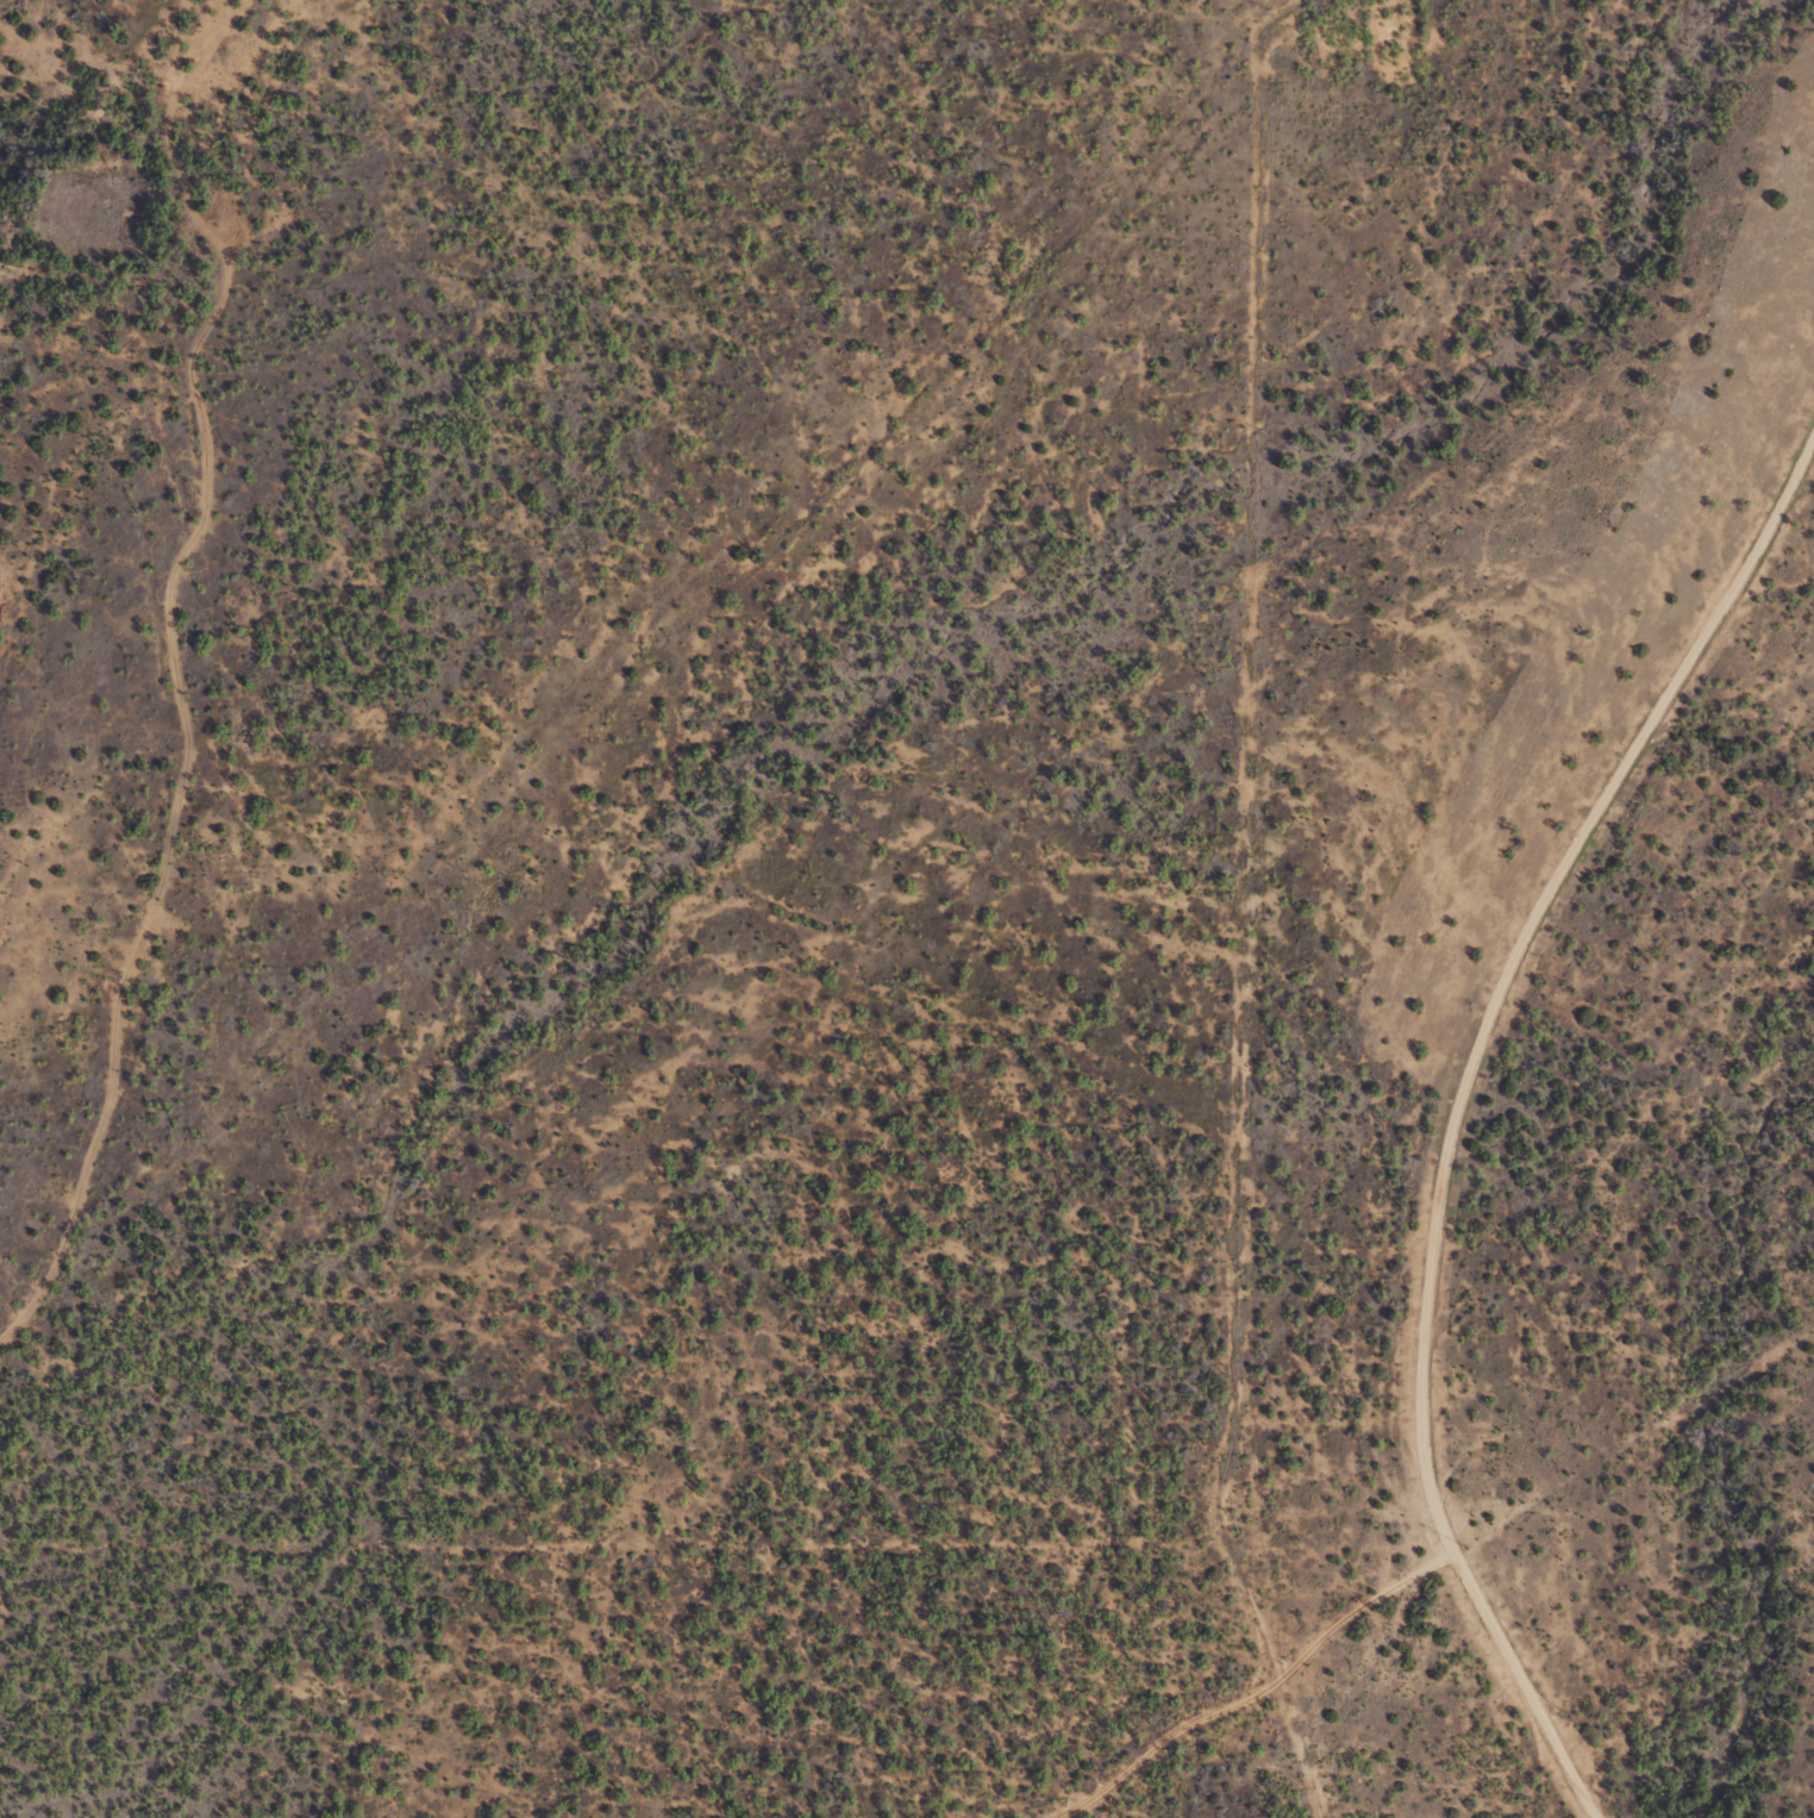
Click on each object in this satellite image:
road: (184, 96)
road: (1463, 1110)

